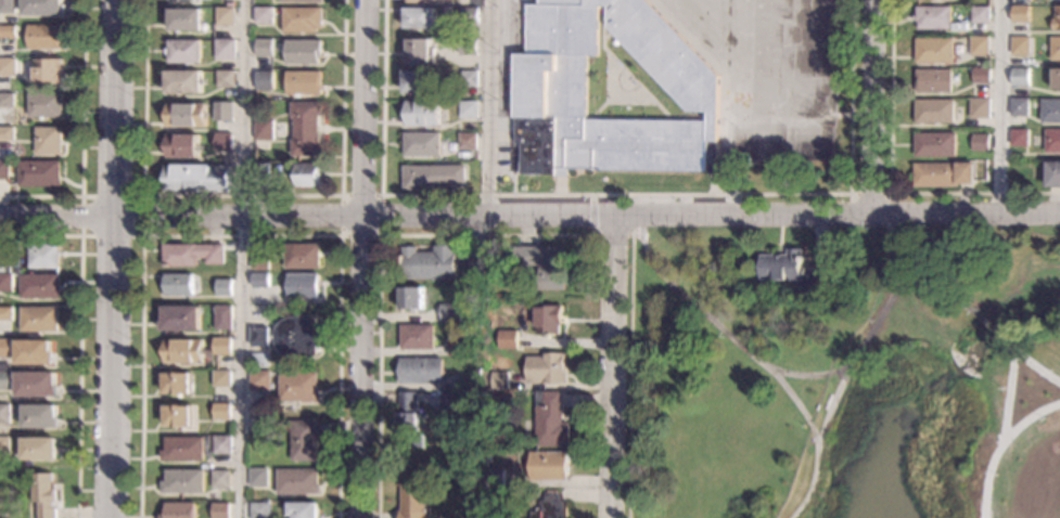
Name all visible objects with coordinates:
building: (180, 0)
building: (301, 0)
building: (425, 1)
building: (230, 3)
building: (8, 7)
building: (42, 7)
building: (1020, 13)
building: (980, 14)
building: (263, 15)
building: (468, 15)
building: (224, 16)
building: (933, 17)
building: (419, 18)
building: (1056, 18)
building: (184, 20)
building: (302, 20)
building: (8, 31)
building: (42, 37)
building: (979, 46)
building: (1020, 46)
building: (468, 47)
building: (263, 48)
building: (1055, 48)
building: (225, 50)
building: (933, 50)
building: (182, 51)
building: (303, 51)
building: (419, 51)
building: (8, 67)
building: (46, 70)
building: (980, 75)
building: (1019, 77)
building: (469, 78)
building: (225, 79)
building: (1056, 79)
building: (264, 80)
building: (182, 81)
building: (932, 81)
building: (304, 82)
building: (414, 82)
parking lot: (506, 82)
building: (549, 94)
building: (7, 100)
building: (43, 104)
road: (870, 106)
road: (998, 107)
building: (1018, 107)
road: (489, 108)
building: (979, 108)
building: (468, 109)
building: (933, 111)
building: (1050, 111)
building: (224, 112)
building: (422, 114)
building: (184, 115)
building: (305, 129)
building: (263, 130)
building: (7, 134)
road: (80, 138)
building: (1018, 138)
building: (47, 140)
building: (1051, 141)
building: (222, 142)
building: (468, 142)
building: (979, 142)
building: (421, 144)
building: (933, 144)
building: (180, 145)
building: (467, 156)
road: (759, 160)
building: (1030, 165)
building: (4, 170)
building: (259, 172)
building: (38, 173)
building: (307, 174)
building: (942, 174)
building: (1052, 174)
building: (432, 177)
building: (195, 179)
road: (891, 180)
road: (712, 183)
road: (513, 184)
road: (559, 185)
road: (886, 193)
road: (612, 194)
road: (242, 195)
road: (380, 195)
road: (590, 215)
road: (529, 217)
road: (141, 234)
road: (611, 235)
road: (241, 236)
building: (190, 255)
building: (43, 256)
building: (302, 256)
road: (114, 258)
road: (359, 258)
road: (243, 259)
building: (259, 261)
building: (2, 262)
building: (431, 262)
building: (544, 264)
building: (475, 269)
building: (792, 269)
road: (380, 270)
building: (259, 280)
building: (5, 283)
building: (177, 284)
building: (39, 286)
building: (303, 286)
building: (222, 287)
building: (413, 297)
road: (946, 299)
building: (450, 312)
building: (5, 314)
building: (222, 318)
building: (179, 319)
building: (548, 319)
building: (39, 320)
road: (78, 336)
building: (418, 336)
road: (999, 336)
building: (258, 337)
building: (296, 337)
building: (508, 338)
building: (221, 346)
building: (457, 347)
building: (5, 349)
building: (181, 351)
building: (34, 352)
road: (1034, 365)
road: (617, 367)
building: (546, 368)
building: (421, 370)
building: (475, 373)
road: (787, 374)
building: (5, 376)
road: (629, 376)
building: (220, 378)
building: (258, 380)
building: (498, 380)
building: (175, 384)
building: (36, 385)
park: (850, 386)
building: (297, 387)
building: (450, 401)
building: (219, 412)
road: (1030, 413)
building: (4, 414)
building: (40, 416)
building: (175, 416)
building: (408, 418)
building: (549, 419)
road: (1005, 437)
building: (304, 440)
road: (815, 441)
building: (220, 444)
building: (4, 448)
building: (39, 449)
building: (180, 449)
building: (549, 465)
building: (256, 477)
building: (494, 478)
building: (218, 479)
building: (180, 481)
building: (296, 481)
road: (814, 482)
building: (43, 494)
building: (414, 501)
building: (550, 506)
building: (302, 509)
building: (177, 510)
building: (218, 510)
building: (257, 510)

